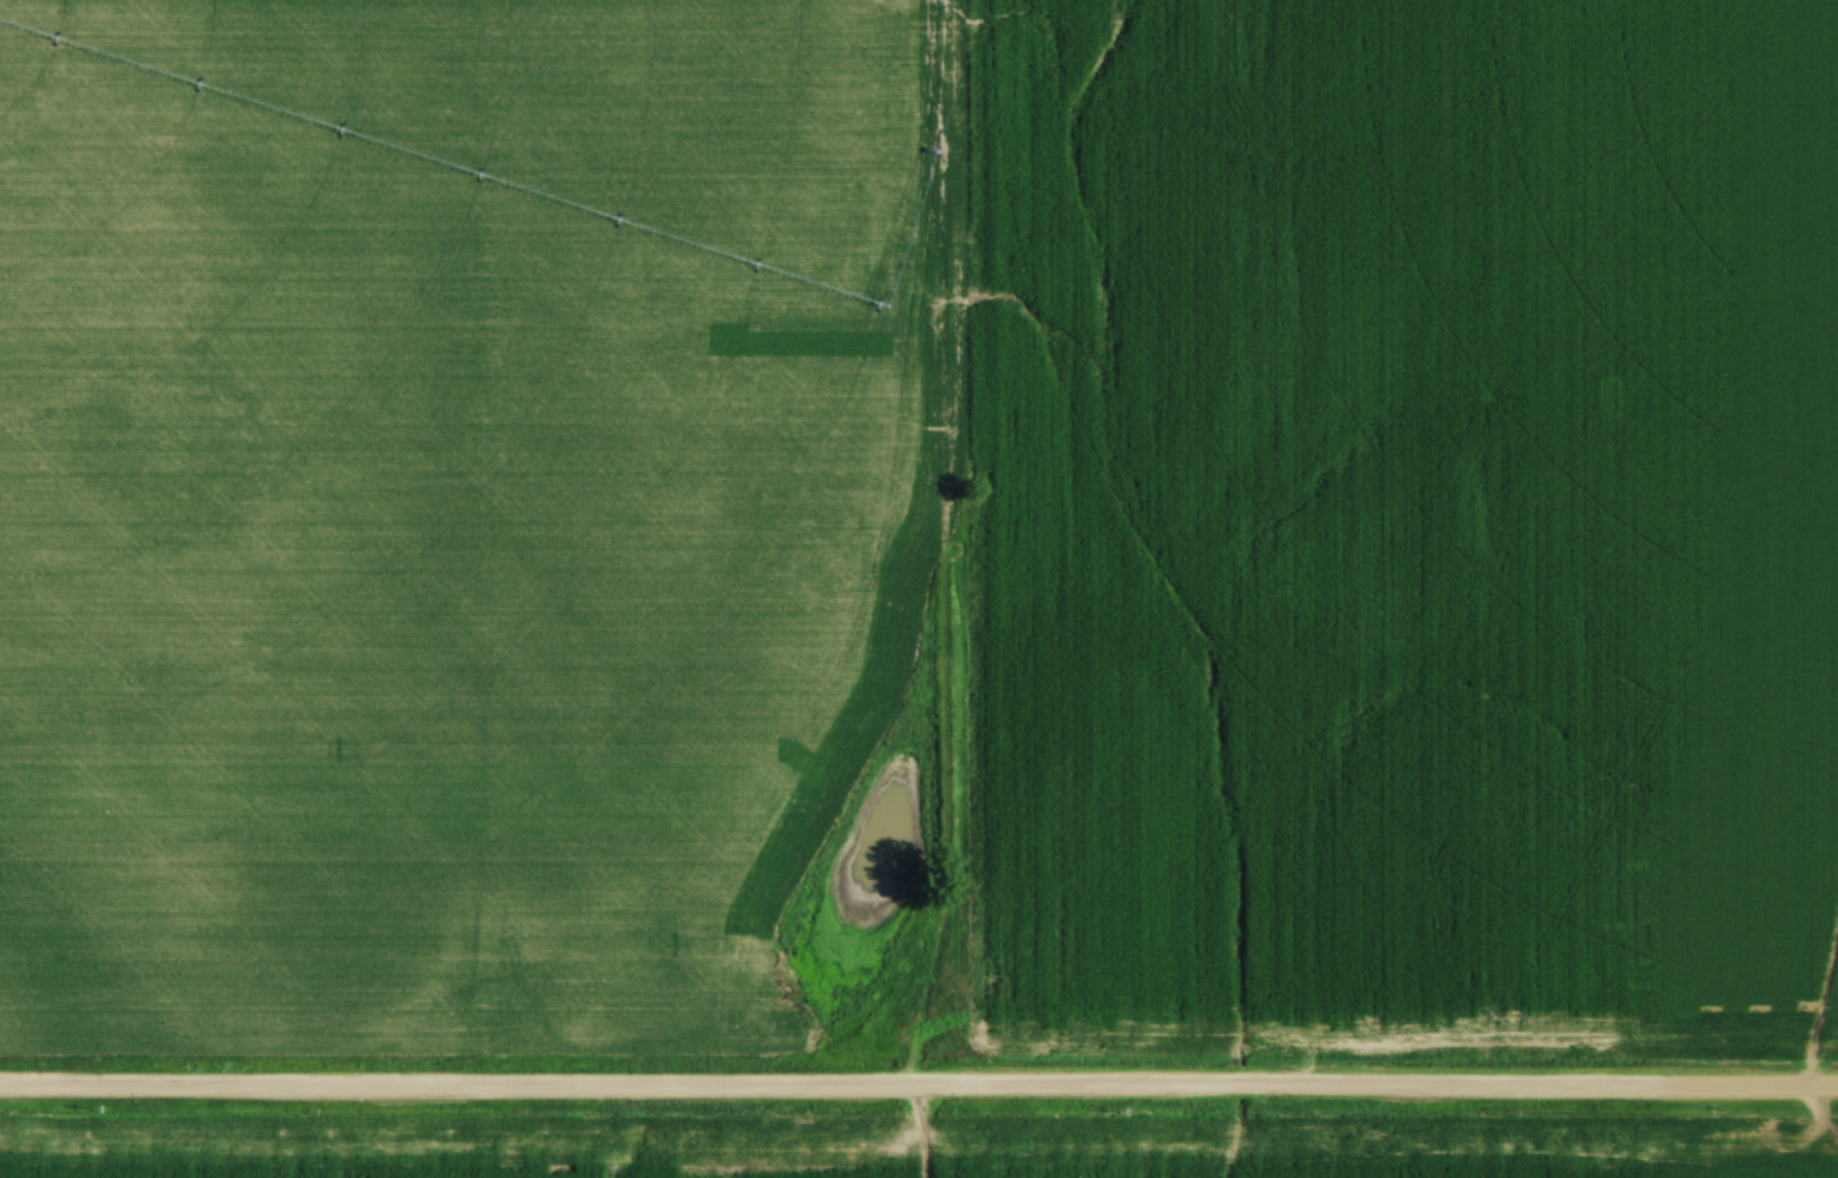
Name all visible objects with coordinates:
road: (918, 1089)

